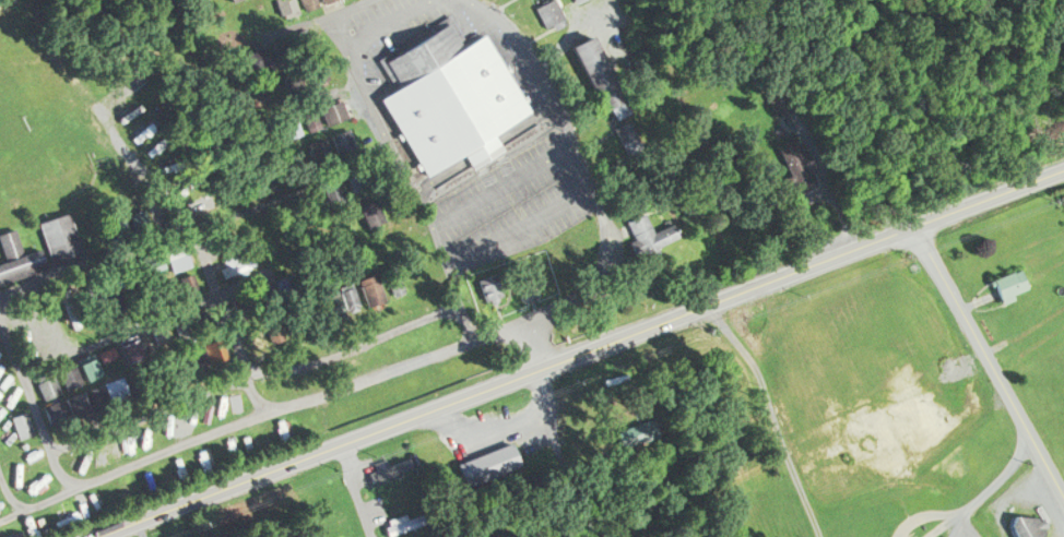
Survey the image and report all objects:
building: (319, 0)
building: (307, 3)
road: (350, 5)
building: (285, 7)
building: (547, 11)
building: (588, 64)
building: (450, 97)
building: (332, 110)
park: (39, 128)
building: (341, 136)
building: (799, 166)
road: (421, 210)
building: (646, 231)
building: (59, 237)
building: (20, 265)
building: (393, 278)
building: (489, 284)
building: (1013, 285)
building: (370, 289)
road: (227, 321)
road: (490, 335)
road: (580, 348)
road: (992, 359)
road: (36, 405)
road: (150, 411)
road: (773, 415)
building: (21, 423)
building: (646, 429)
building: (495, 458)
building: (399, 465)
road: (991, 485)
road: (10, 489)
road: (357, 490)
building: (411, 492)
road: (39, 503)
road: (927, 512)
building: (411, 522)
building: (395, 523)
building: (1030, 526)
road: (123, 533)
building: (441, 536)

